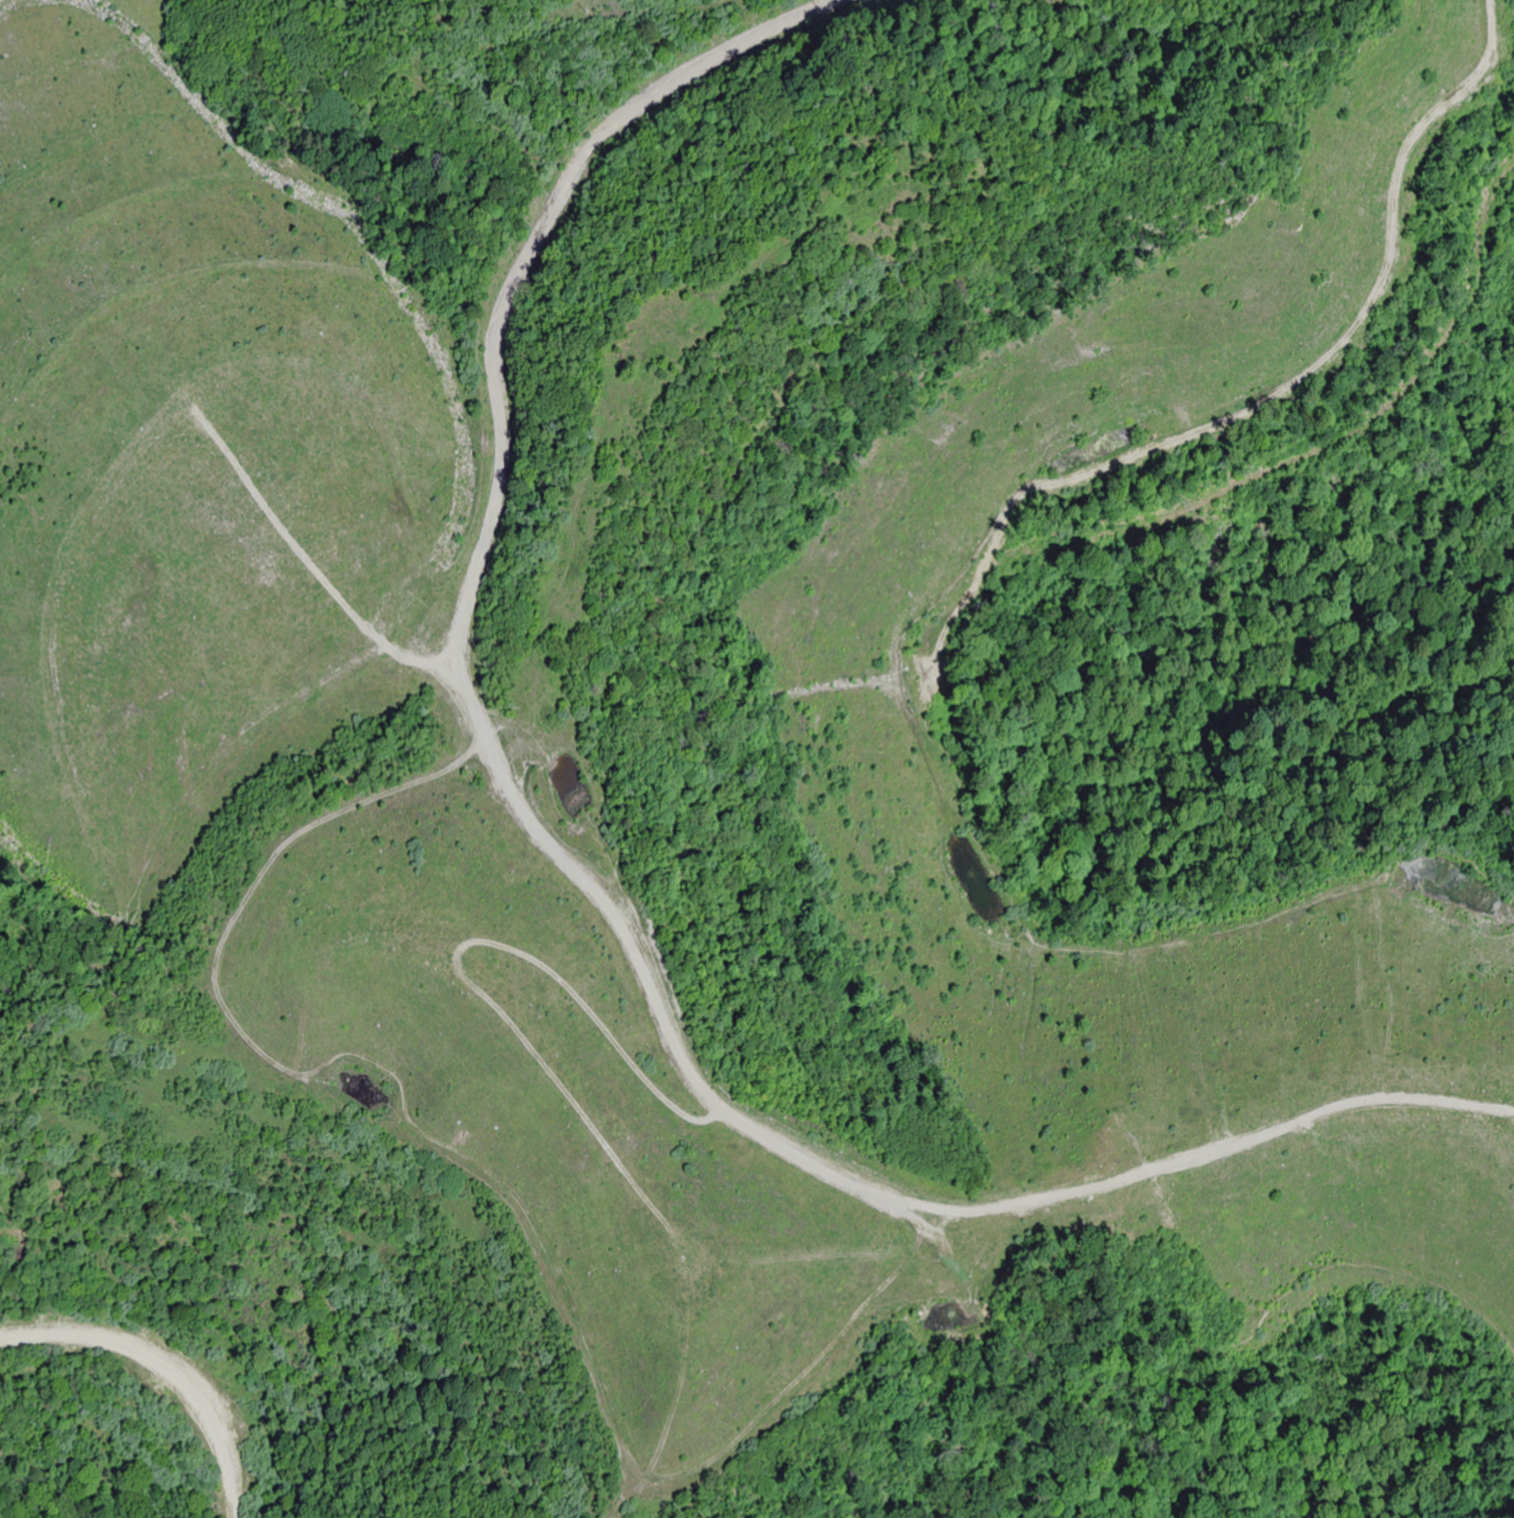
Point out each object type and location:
building: (837, 744)
building: (1203, 965)

